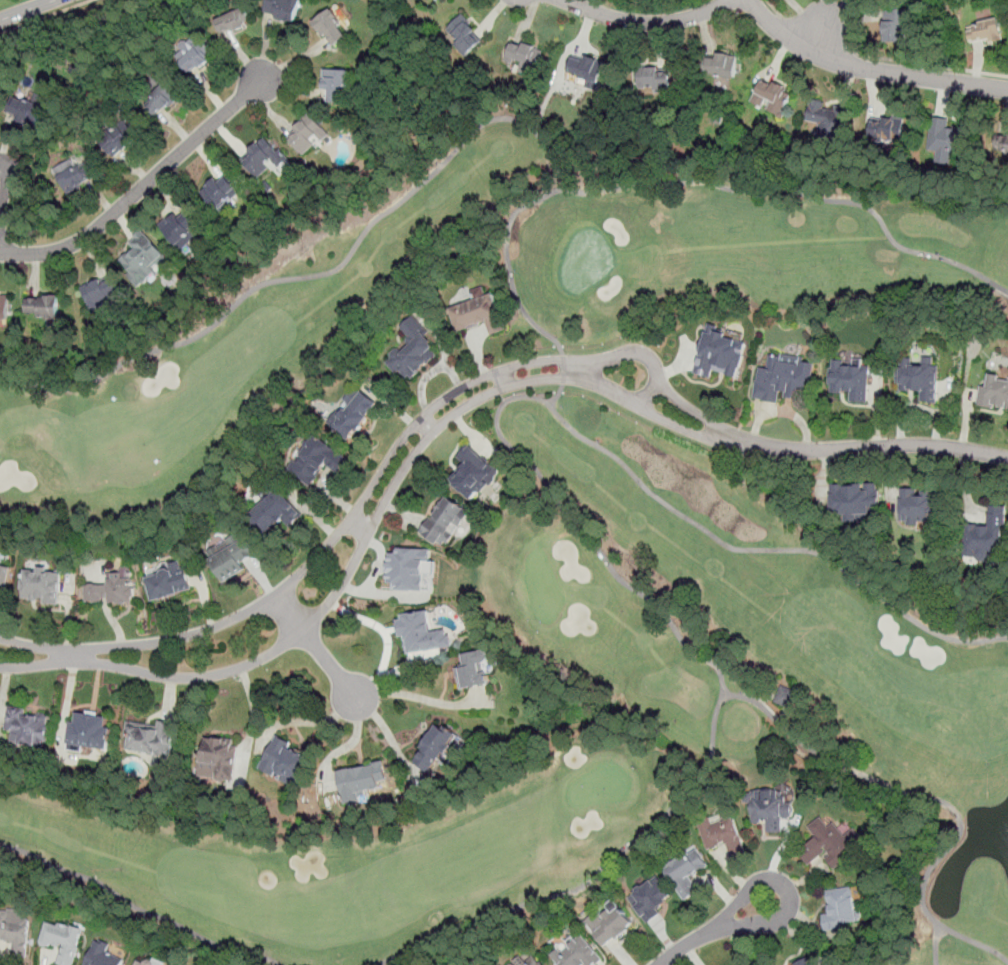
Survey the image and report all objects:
building: (283, 8)
road: (773, 8)
road: (27, 10)
road: (47, 17)
building: (234, 21)
road: (647, 25)
building: (896, 26)
building: (330, 27)
building: (984, 30)
road: (816, 31)
building: (464, 35)
road: (819, 35)
building: (198, 53)
building: (525, 57)
road: (933, 65)
building: (721, 66)
building: (587, 68)
road: (868, 70)
building: (653, 79)
building: (335, 84)
building: (772, 97)
building: (163, 98)
building: (25, 111)
road: (490, 119)
building: (828, 120)
building: (887, 132)
building: (309, 134)
building: (118, 139)
building: (946, 141)
building: (1002, 143)
building: (263, 157)
building: (76, 178)
road: (141, 188)
building: (219, 192)
building: (180, 230)
building: (145, 263)
road: (506, 263)
building: (100, 294)
building: (4, 307)
building: (43, 308)
building: (478, 313)
building: (412, 350)
building: (715, 353)
road: (586, 369)
road: (504, 378)
building: (783, 379)
building: (849, 380)
building: (923, 380)
road: (651, 390)
road: (559, 393)
building: (994, 393)
building: (353, 413)
road: (429, 422)
road: (717, 433)
road: (879, 446)
building: (317, 460)
road: (380, 471)
building: (478, 474)
building: (852, 504)
building: (921, 506)
building: (274, 511)
road: (564, 511)
road: (376, 519)
building: (444, 519)
road: (359, 525)
building: (989, 537)
building: (231, 556)
park: (570, 557)
building: (407, 568)
building: (4, 579)
building: (169, 582)
building: (42, 586)
building: (112, 590)
building: (422, 634)
road: (316, 646)
road: (73, 656)
building: (473, 670)
building: (786, 696)
road: (419, 697)
road: (252, 718)
building: (28, 727)
building: (88, 733)
building: (151, 738)
building: (435, 747)
building: (222, 761)
building: (288, 763)
building: (361, 781)
road: (930, 797)
building: (774, 811)
building: (723, 834)
building: (834, 846)
building: (685, 872)
building: (656, 902)
road: (138, 905)
building: (840, 909)
building: (613, 926)
road: (715, 929)
building: (15, 934)
building: (66, 938)
building: (577, 953)
building: (102, 956)
building: (149, 961)
building: (533, 962)
building: (801, 962)
building: (810, 964)

